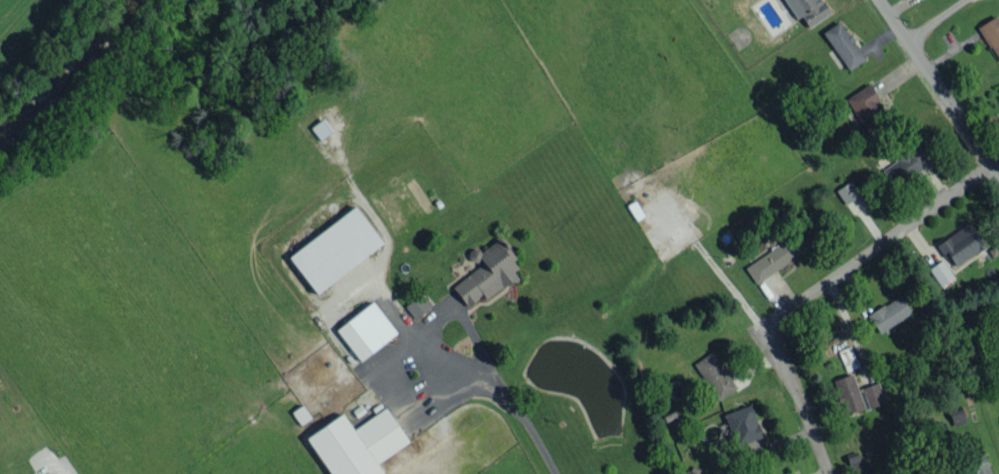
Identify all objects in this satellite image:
building: (808, 10)
road: (933, 20)
building: (991, 34)
building: (842, 45)
park: (306, 66)
road: (937, 88)
building: (866, 109)
building: (320, 128)
building: (905, 165)
building: (847, 191)
building: (958, 244)
road: (880, 245)
building: (334, 249)
building: (775, 257)
building: (487, 272)
building: (940, 272)
building: (417, 305)
building: (888, 313)
building: (365, 330)
building: (714, 374)
building: (848, 393)
building: (873, 394)
road: (798, 400)
building: (300, 414)
building: (956, 416)
road: (520, 417)
building: (742, 425)
building: (356, 443)
building: (973, 464)

